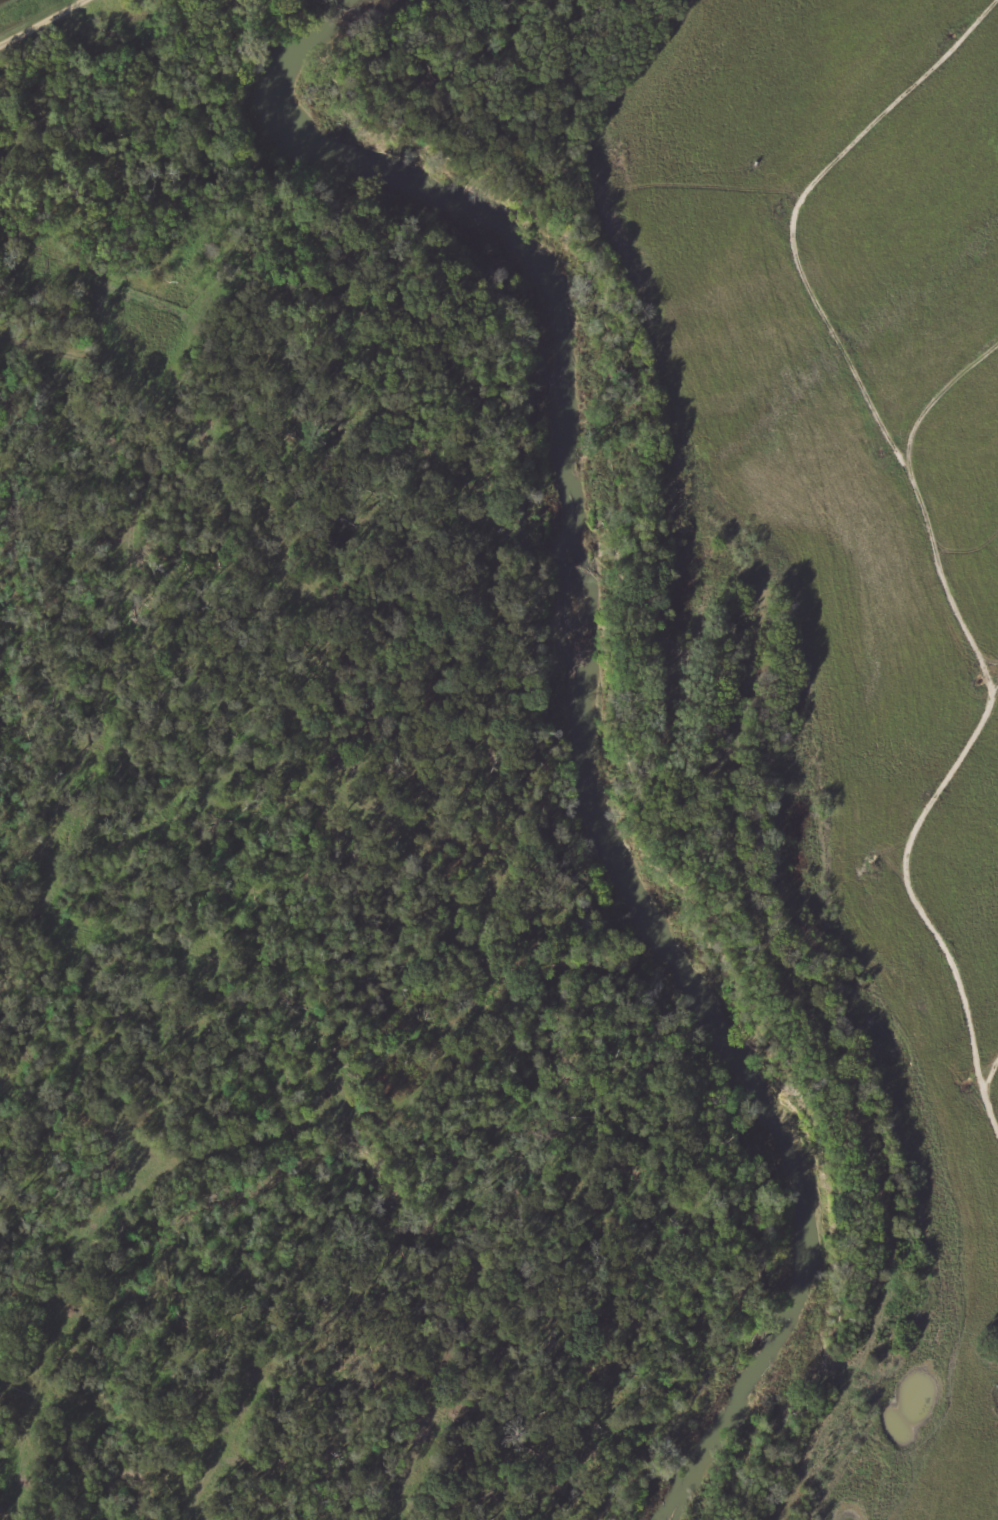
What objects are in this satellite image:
road: (42, 20)
river: (587, 718)

